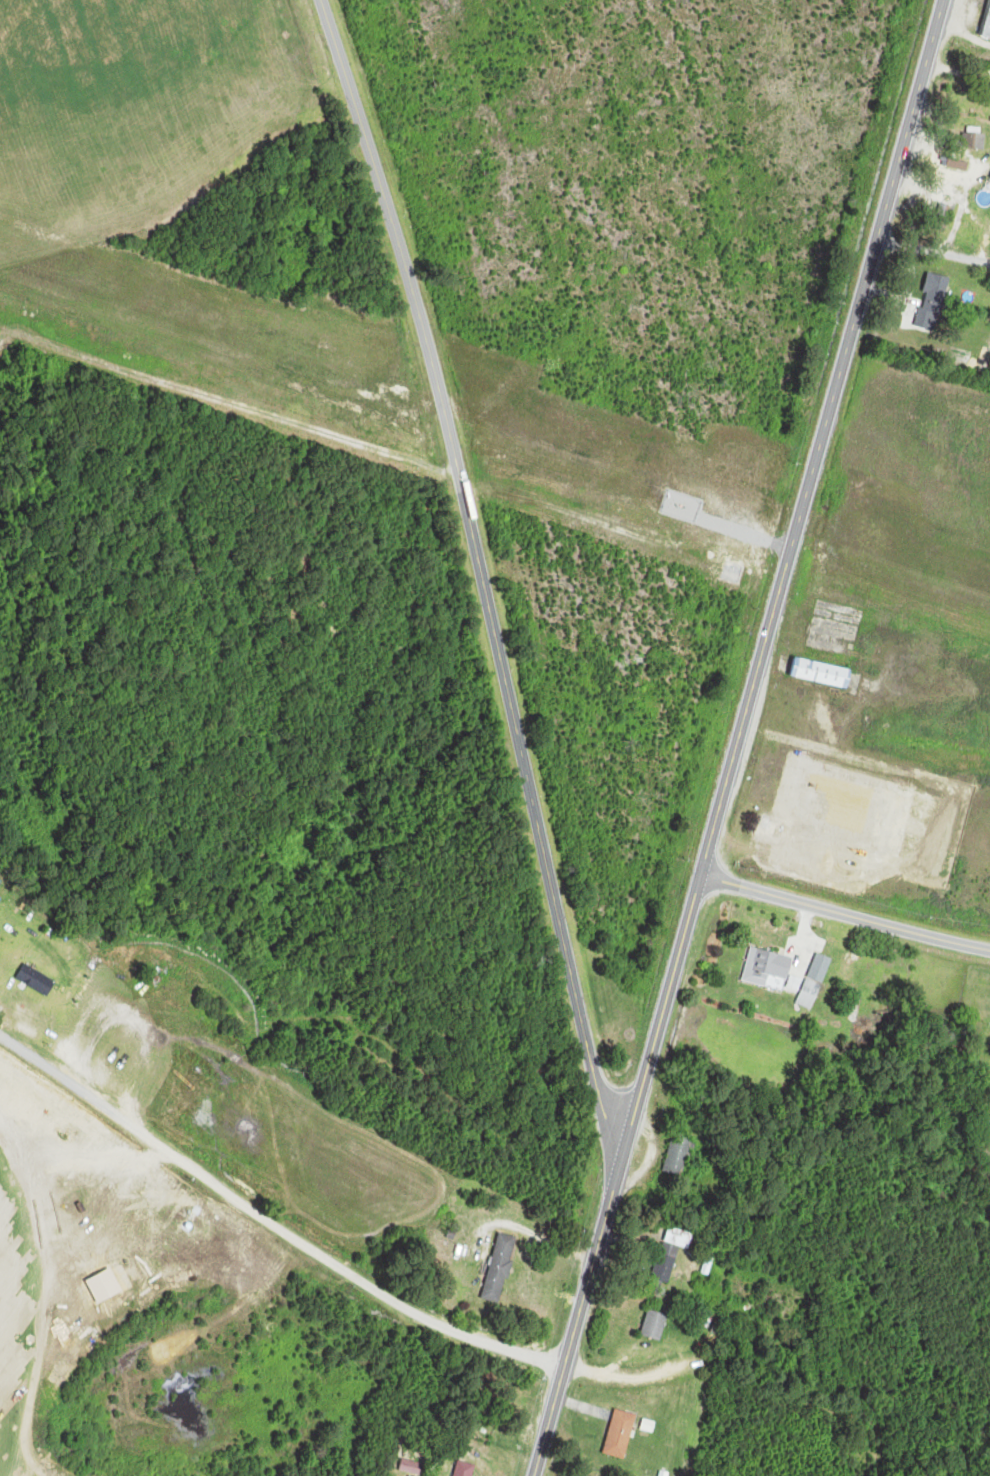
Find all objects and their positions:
building: (988, 33)
building: (976, 140)
road: (367, 142)
building: (946, 208)
road: (934, 251)
building: (933, 301)
road: (220, 396)
road: (785, 568)
building: (824, 673)
road: (512, 715)
building: (770, 828)
road: (845, 913)
building: (772, 969)
building: (36, 976)
building: (816, 981)
building: (679, 1156)
road: (271, 1224)
building: (672, 1253)
building: (501, 1268)
road: (581, 1307)
building: (656, 1325)
building: (621, 1434)
building: (412, 1467)
building: (467, 1469)

